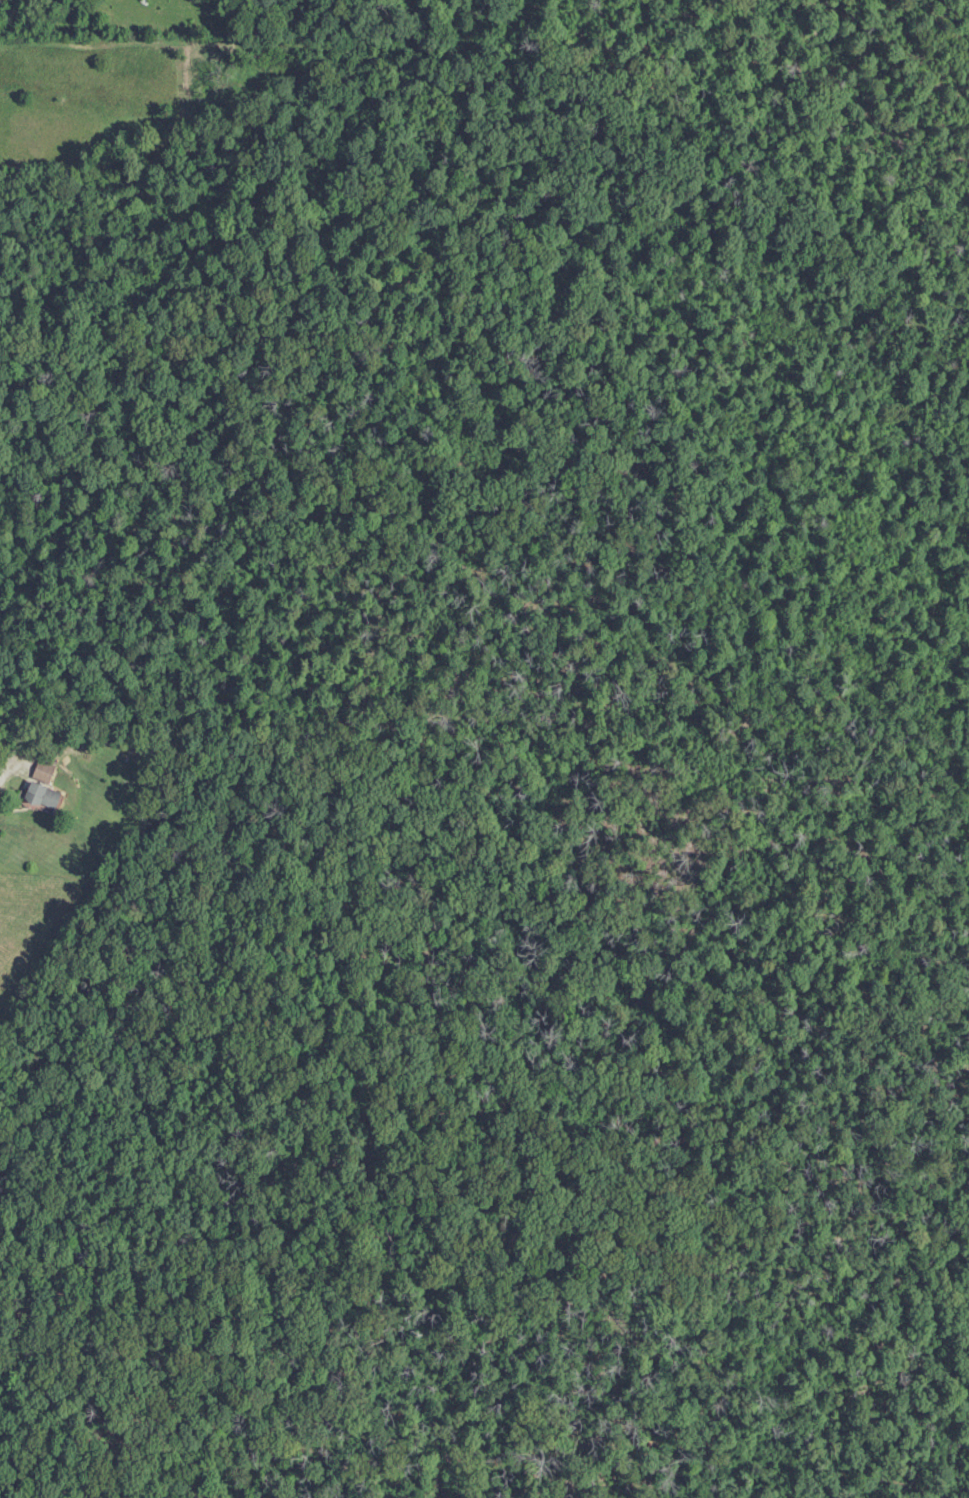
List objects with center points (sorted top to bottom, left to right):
road: (630, 635)
road: (16, 767)
building: (42, 772)
building: (41, 795)

